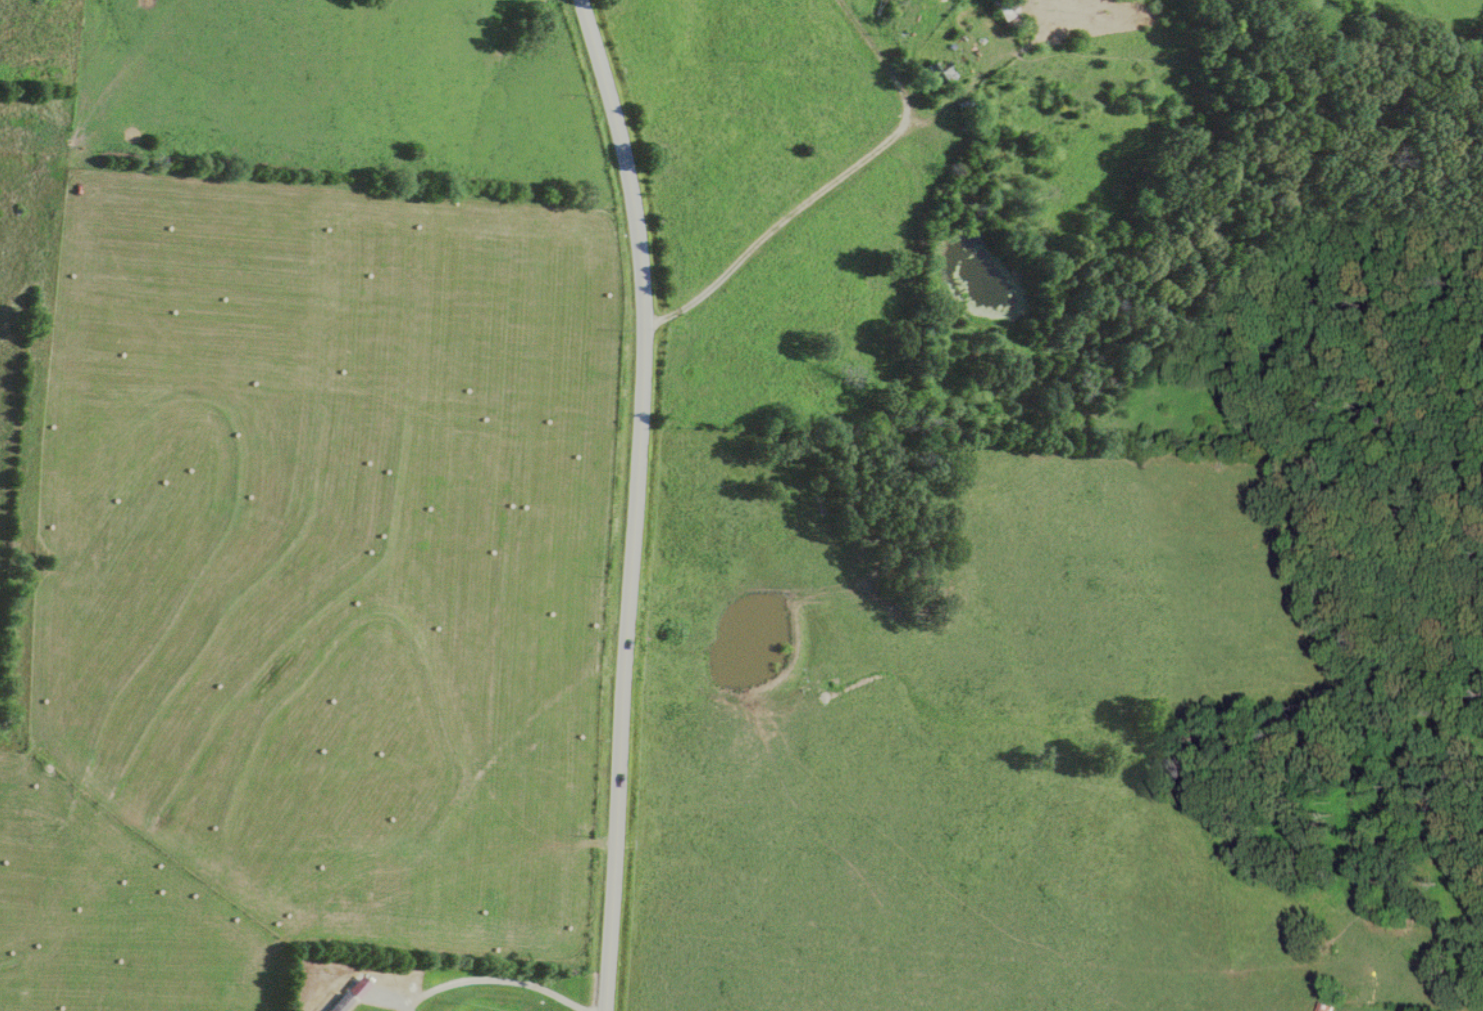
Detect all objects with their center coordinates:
building: (1009, 15)
building: (942, 73)
road: (785, 224)
road: (639, 502)
building: (342, 1004)
building: (1324, 1008)

